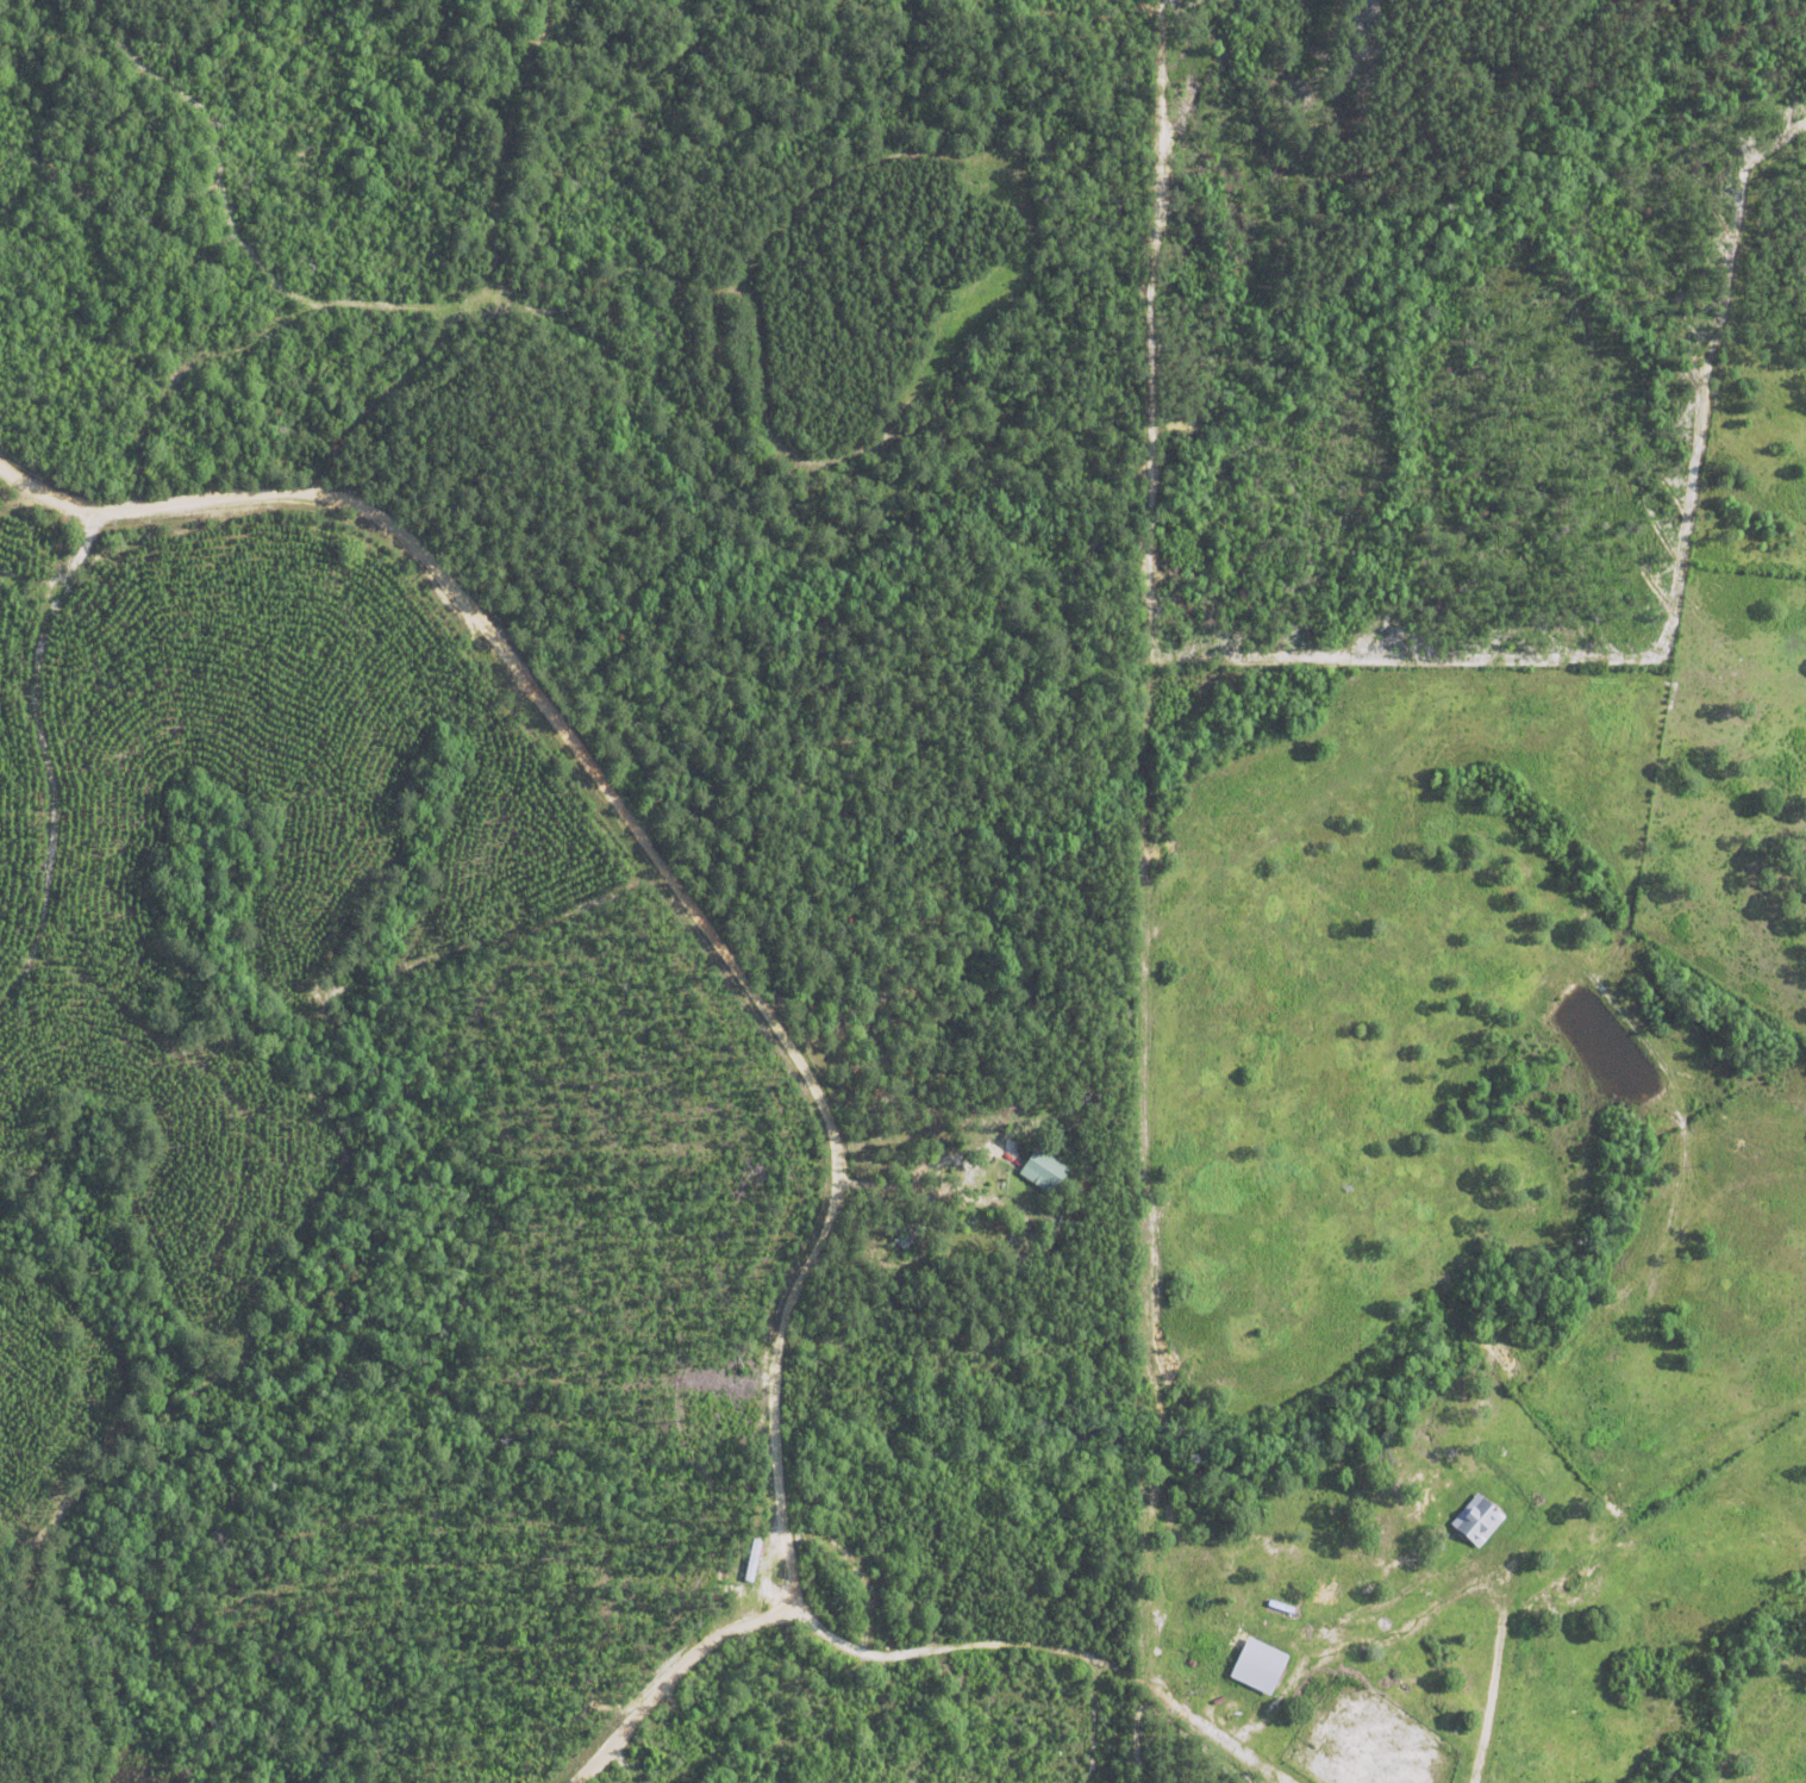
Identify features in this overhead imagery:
road: (732, 960)
building: (1043, 1170)
building: (1476, 1520)
building: (1258, 1665)

